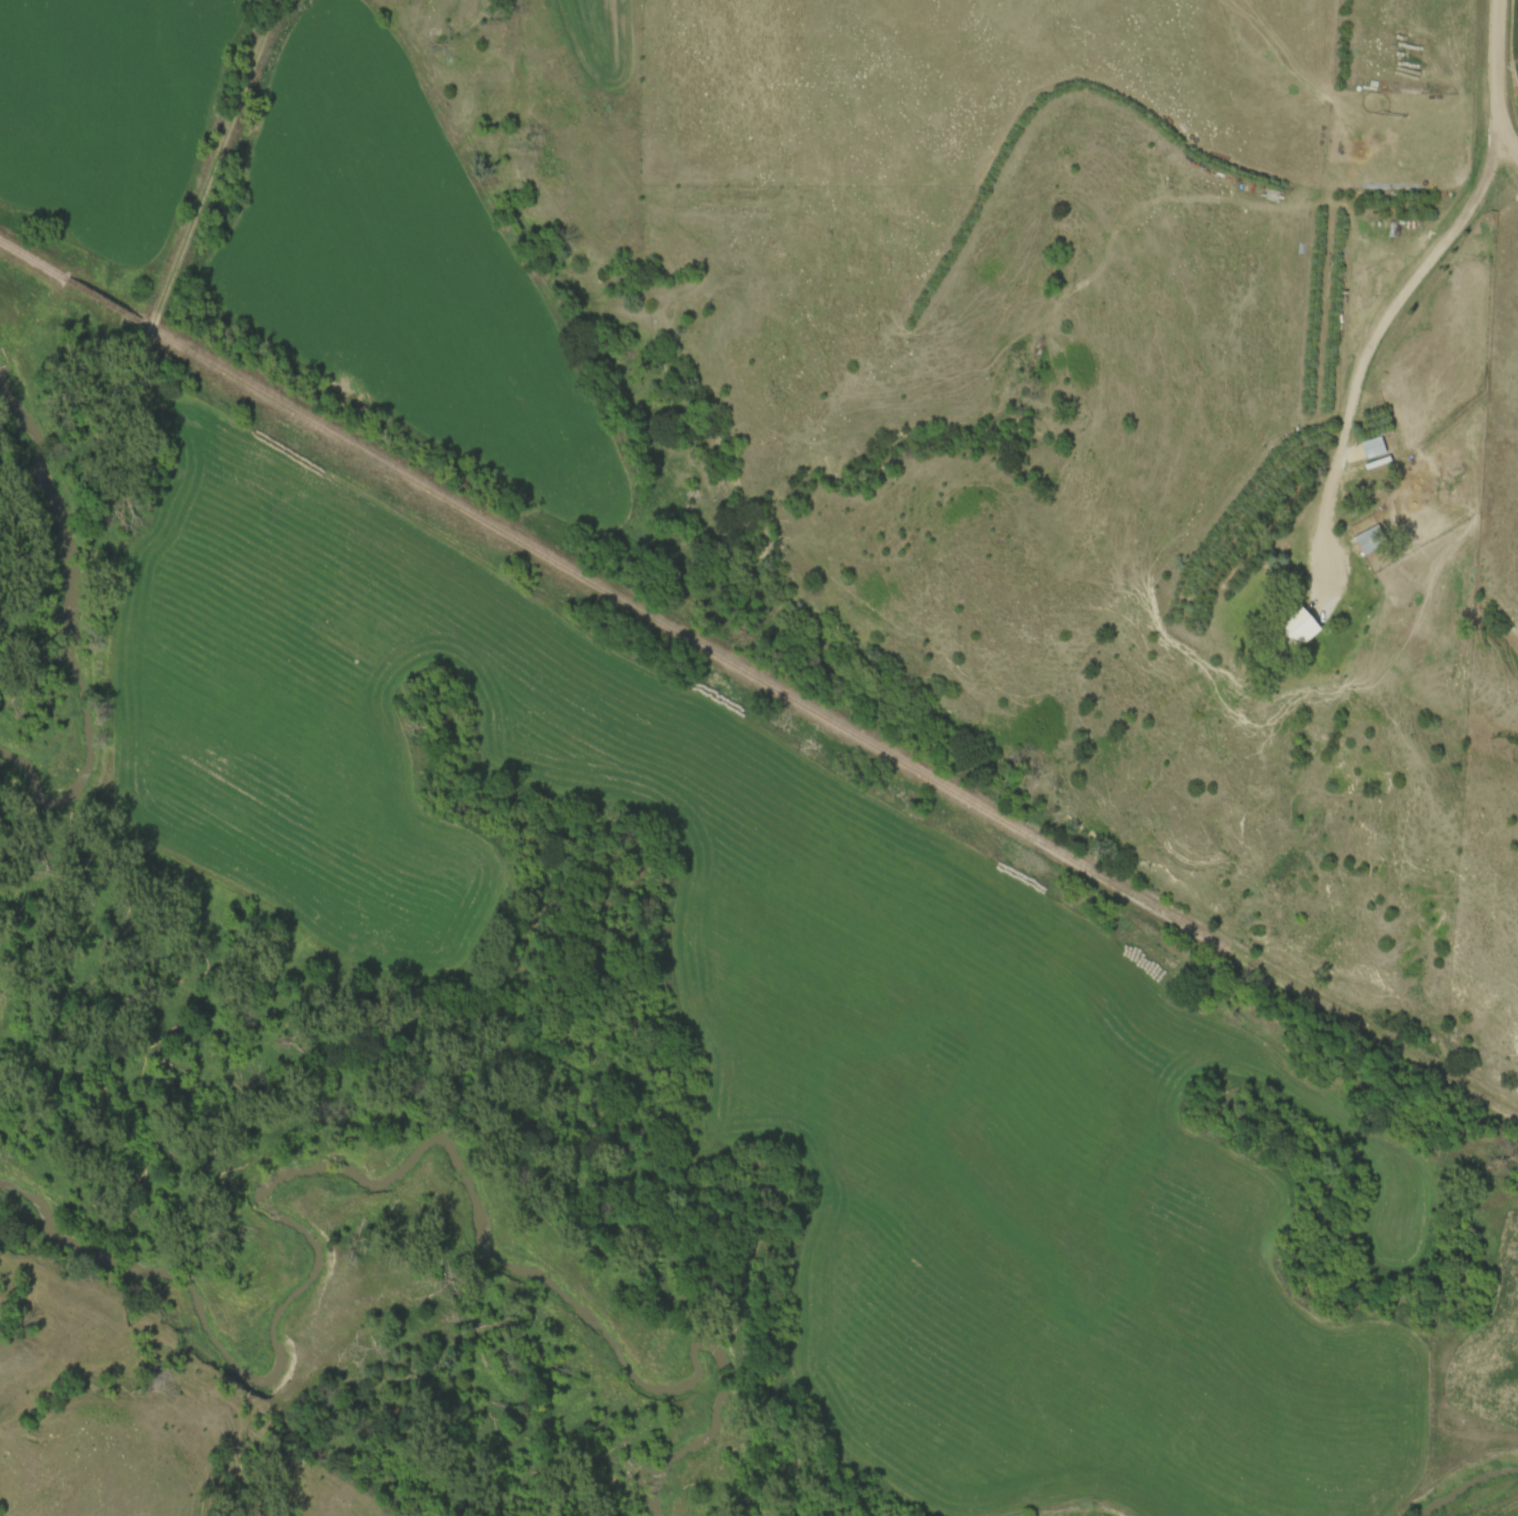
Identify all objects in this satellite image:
crop: (608, 37)
road: (1496, 80)
crop: (108, 110)
building: (1356, 247)
crop: (400, 266)
road: (1377, 330)
building: (1372, 448)
building: (1369, 540)
railway: (759, 673)

